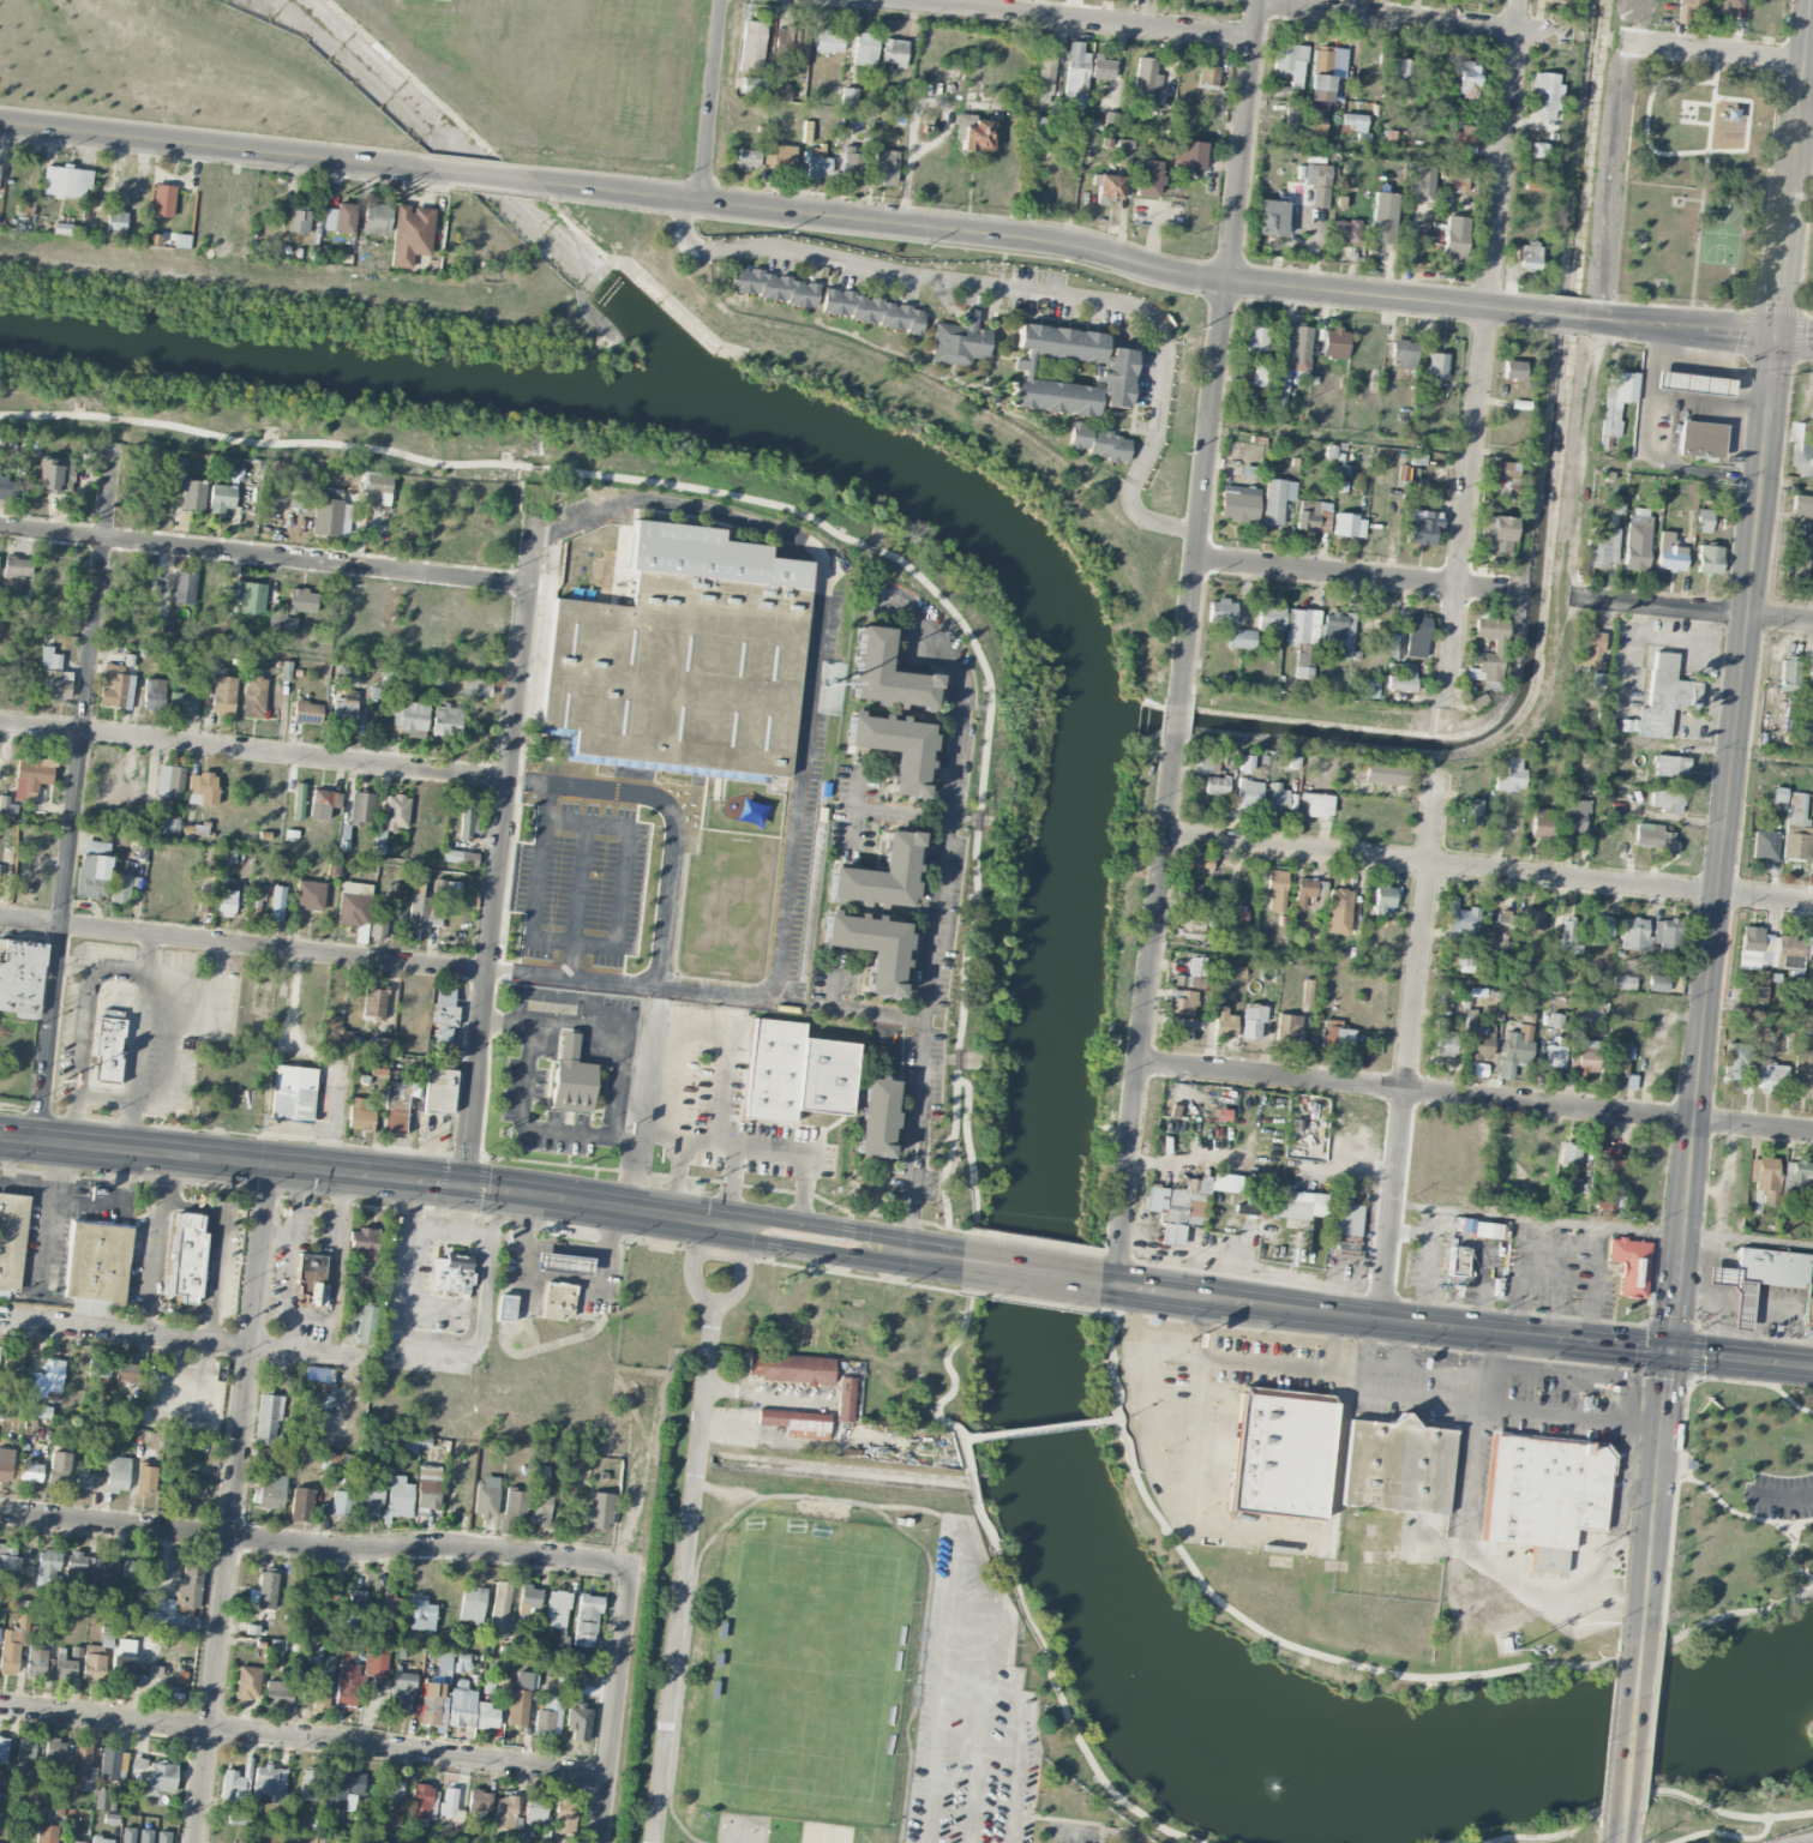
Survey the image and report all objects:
building: (1725, 5)
building: (1688, 8)
road: (1071, 18)
road: (1412, 22)
building: (828, 41)
building: (791, 43)
building: (751, 46)
building: (865, 48)
building: (894, 52)
road: (1718, 54)
building: (1290, 62)
building: (1101, 67)
building: (1405, 67)
park: (378, 71)
building: (1325, 71)
building: (1075, 74)
building: (1045, 76)
building: (1208, 77)
building: (1467, 77)
building: (1145, 80)
building: (779, 90)
building: (1545, 95)
building: (850, 96)
road: (712, 102)
building: (1730, 114)
building: (1295, 119)
building: (1316, 122)
building: (1352, 122)
building: (808, 131)
building: (974, 133)
building: (1465, 138)
building: (1124, 148)
road: (216, 150)
building: (1189, 155)
building: (779, 156)
building: (748, 158)
building: (816, 161)
building: (852, 162)
building: (884, 166)
road: (1793, 172)
building: (1455, 176)
building: (1147, 178)
road: (491, 180)
building: (1423, 180)
building: (66, 181)
road: (1610, 181)
building: (1317, 184)
building: (1109, 185)
park: (1704, 188)
building: (163, 200)
building: (24, 208)
building: (340, 217)
building: (1271, 217)
building: (1382, 217)
building: (377, 218)
building: (299, 221)
building: (62, 228)
building: (1344, 232)
building: (410, 234)
building: (1454, 236)
building: (154, 239)
road: (1046, 240)
building: (182, 241)
building: (1529, 254)
building: (773, 287)
road: (1033, 287)
building: (872, 311)
road: (1568, 314)
road: (1596, 317)
road: (1686, 328)
building: (1254, 338)
traffic signals: (1773, 338)
road: (1793, 340)
building: (959, 341)
building: (1334, 343)
road: (1214, 352)
building: (1292, 353)
building: (1404, 353)
road: (1482, 353)
building: (1436, 365)
road: (1683, 365)
building: (1513, 368)
building: (1069, 371)
road: (1730, 371)
building: (1257, 376)
building: (1691, 383)
building: (1616, 400)
road: (1667, 402)
road: (1340, 437)
building: (1699, 437)
building: (1098, 442)
building: (1802, 449)
building: (1417, 458)
building: (1401, 472)
road: (1704, 472)
building: (55, 474)
building: (1507, 474)
building: (10, 488)
building: (377, 488)
building: (193, 494)
building: (222, 498)
road: (521, 499)
building: (1277, 499)
building: (1238, 503)
building: (1801, 509)
building: (328, 511)
building: (1313, 516)
building: (344, 517)
building: (1704, 520)
building: (1349, 524)
building: (1421, 527)
road: (546, 532)
building: (1495, 534)
building: (1638, 542)
building: (1603, 547)
building: (1670, 552)
building: (1799, 553)
road: (265, 556)
road: (896, 559)
building: (1709, 559)
building: (17, 566)
road: (1351, 574)
building: (1812, 582)
building: (184, 587)
building: (250, 596)
building: (302, 600)
road: (1692, 608)
building: (1220, 611)
building: (1271, 617)
building: (281, 619)
building: (1302, 625)
building: (1334, 628)
road: (1665, 635)
building: (1417, 636)
building: (1242, 638)
building: (1591, 644)
building: (1395, 646)
building: (1488, 653)
building: (683, 656)
building: (1305, 661)
building: (1811, 666)
building: (286, 671)
building: (886, 672)
building: (1789, 674)
building: (54, 677)
road: (1705, 679)
building: (1400, 683)
building: (115, 686)
building: (476, 686)
building: (221, 688)
building: (1369, 688)
building: (154, 694)
building: (253, 696)
building: (1662, 696)
building: (1475, 701)
building: (182, 702)
building: (307, 712)
building: (343, 713)
building: (409, 718)
building: (446, 720)
road: (1176, 722)
road: (805, 733)
building: (1803, 738)
building: (895, 745)
road: (1676, 745)
road: (254, 751)
building: (1208, 763)
building: (1670, 766)
building: (1385, 772)
building: (31, 776)
building: (1511, 776)
road: (517, 780)
building: (170, 781)
building: (1218, 785)
building: (202, 788)
road: (77, 793)
building: (1249, 793)
building: (1779, 793)
building: (298, 797)
building: (1277, 797)
building: (1665, 800)
building: (323, 803)
building: (7, 805)
building: (1317, 805)
road: (853, 806)
building: (361, 809)
building: (1796, 809)
building: (396, 812)
road: (901, 812)
building: (1470, 812)
building: (1571, 817)
building: (466, 820)
building: (1542, 824)
building: (170, 826)
road: (673, 826)
building: (194, 828)
building: (1653, 838)
building: (379, 839)
road: (1723, 844)
building: (1765, 844)
building: (1796, 846)
road: (502, 852)
building: (228, 856)
road: (945, 856)
building: (460, 857)
building: (1197, 862)
building: (332, 868)
building: (92, 869)
road: (1488, 869)
building: (880, 874)
building: (209, 876)
building: (120, 888)
building: (1277, 890)
building: (1308, 890)
building: (1200, 892)
building: (258, 893)
building: (310, 894)
road: (540, 896)
building: (1382, 899)
building: (226, 901)
building: (205, 902)
building: (277, 902)
building: (1339, 902)
building: (354, 904)
building: (424, 906)
building: (1235, 916)
building: (379, 919)
building: (1460, 919)
building: (1532, 920)
building: (1190, 929)
building: (1602, 929)
building: (1500, 930)
building: (1634, 933)
building: (1665, 935)
building: (1569, 936)
road: (245, 944)
building: (1809, 944)
building: (871, 945)
building: (1769, 950)
building: (1200, 966)
road: (497, 972)
building: (20, 974)
road: (1483, 974)
road: (536, 975)
building: (1184, 980)
building: (1622, 981)
building: (1657, 983)
building: (1755, 990)
building: (1307, 991)
building: (1181, 1002)
building: (374, 1003)
road: (653, 1005)
road: (866, 1009)
road: (1145, 1011)
building: (443, 1014)
building: (1253, 1020)
building: (1223, 1023)
road: (601, 1025)
building: (1287, 1029)
building: (335, 1032)
building: (1178, 1034)
building: (1337, 1034)
building: (1443, 1038)
road: (1411, 1043)
building: (1478, 1043)
building: (108, 1044)
building: (379, 1045)
building: (1514, 1050)
building: (1554, 1056)
building: (1585, 1056)
road: (314, 1057)
building: (1619, 1058)
building: (1734, 1065)
building: (796, 1071)
building: (1803, 1074)
building: (571, 1075)
building: (1772, 1077)
building: (1629, 1081)
building: (439, 1091)
building: (294, 1092)
road: (1476, 1094)
building: (397, 1105)
road: (638, 1111)
building: (359, 1115)
building: (876, 1116)
road: (623, 1137)
building: (1568, 1154)
building: (1609, 1159)
road: (378, 1173)
building: (1764, 1177)
building: (1794, 1177)
road: (163, 1178)
traffic signals: (463, 1183)
road: (730, 1183)
road: (909, 1200)
building: (1604, 1201)
building: (1187, 1203)
building: (1249, 1203)
building: (1299, 1205)
building: (1344, 1219)
road: (817, 1224)
road: (1604, 1225)
building: (11, 1238)
building: (364, 1242)
building: (1346, 1243)
road: (220, 1244)
road: (815, 1248)
road: (921, 1253)
road: (1704, 1253)
building: (187, 1254)
building: (1499, 1256)
building: (1457, 1261)
building: (562, 1262)
building: (1629, 1263)
building: (96, 1265)
road: (152, 1267)
road: (1033, 1272)
building: (452, 1274)
road: (1719, 1275)
building: (1755, 1275)
building: (312, 1280)
road: (737, 1280)
road: (1716, 1291)
road: (1704, 1295)
building: (1809, 1296)
building: (558, 1299)
road: (1740, 1304)
building: (505, 1307)
road: (1386, 1317)
building: (365, 1323)
road: (1758, 1328)
road: (1719, 1329)
road: (180, 1335)
road: (1335, 1338)
road: (1401, 1343)
traffic signals: (1670, 1349)
road: (1489, 1352)
road: (1741, 1356)
road: (1315, 1362)
building: (97, 1368)
building: (790, 1368)
building: (127, 1370)
building: (320, 1386)
building: (44, 1388)
road: (761, 1399)
building: (845, 1399)
road: (1145, 1409)
road: (1566, 1416)
road: (1109, 1417)
building: (268, 1419)
building: (797, 1423)
road: (1039, 1425)
road: (971, 1434)
building: (409, 1445)
building: (1280, 1452)
building: (271, 1458)
building: (337, 1461)
building: (1397, 1465)
building: (58, 1466)
building: (5, 1471)
building: (30, 1472)
building: (116, 1473)
building: (85, 1478)
building: (146, 1478)
road: (973, 1485)
building: (192, 1487)
building: (428, 1488)
building: (271, 1493)
building: (1545, 1494)
parking lot: (1782, 1494)
road: (1656, 1495)
road: (1778, 1495)
building: (398, 1496)
building: (486, 1496)
building: (372, 1500)
road: (235, 1502)
building: (341, 1502)
building: (301, 1503)
road: (1730, 1506)
building: (512, 1508)
building: (542, 1508)
building: (600, 1511)
road: (686, 1530)
road: (1256, 1530)
road: (960, 1535)
road: (316, 1545)
road: (1481, 1551)
road: (1790, 1554)
building: (8, 1557)
building: (48, 1563)
building: (79, 1565)
building: (132, 1568)
building: (102, 1577)
building: (190, 1585)
building: (265, 1589)
building: (328, 1591)
building: (529, 1598)
building: (472, 1604)
building: (390, 1607)
building: (500, 1607)
building: (356, 1608)
building: (557, 1609)
building: (420, 1614)
building: (167, 1620)
building: (587, 1620)
park: (1358, 1631)
building: (10, 1650)
building: (37, 1652)
building: (124, 1656)
road: (1344, 1658)
building: (96, 1659)
building: (444, 1659)
building: (463, 1662)
building: (374, 1664)
building: (64, 1667)
park: (806, 1668)
building: (148, 1670)
building: (523, 1680)
building: (347, 1681)
building: (247, 1682)
road: (963, 1687)
building: (402, 1689)
building: (277, 1693)
building: (317, 1698)
building: (433, 1704)
road: (616, 1704)
building: (462, 1707)
building: (517, 1707)
building: (550, 1715)
building: (487, 1716)
road: (1632, 1722)
road: (304, 1741)
building: (4, 1747)
building: (58, 1751)
road: (1019, 1752)
building: (24, 1753)
building: (109, 1763)
building: (82, 1765)
building: (161, 1778)
building: (270, 1782)
building: (234, 1785)
building: (308, 1785)
building: (343, 1788)
building: (392, 1788)
building: (4, 1791)
road: (1644, 1793)
building: (480, 1800)
building: (449, 1801)
building: (424, 1802)
building: (535, 1809)
building: (505, 1812)
building: (564, 1815)
building: (236, 1818)
road: (1622, 1823)
road: (1094, 1829)
road: (1723, 1831)
building: (46, 1833)
building: (127, 1835)
building: (145, 1836)
building: (162, 1836)
building: (275, 1837)
building: (101, 1839)
building: (71, 1841)
road: (1803, 1841)
road: (1799, 1842)

